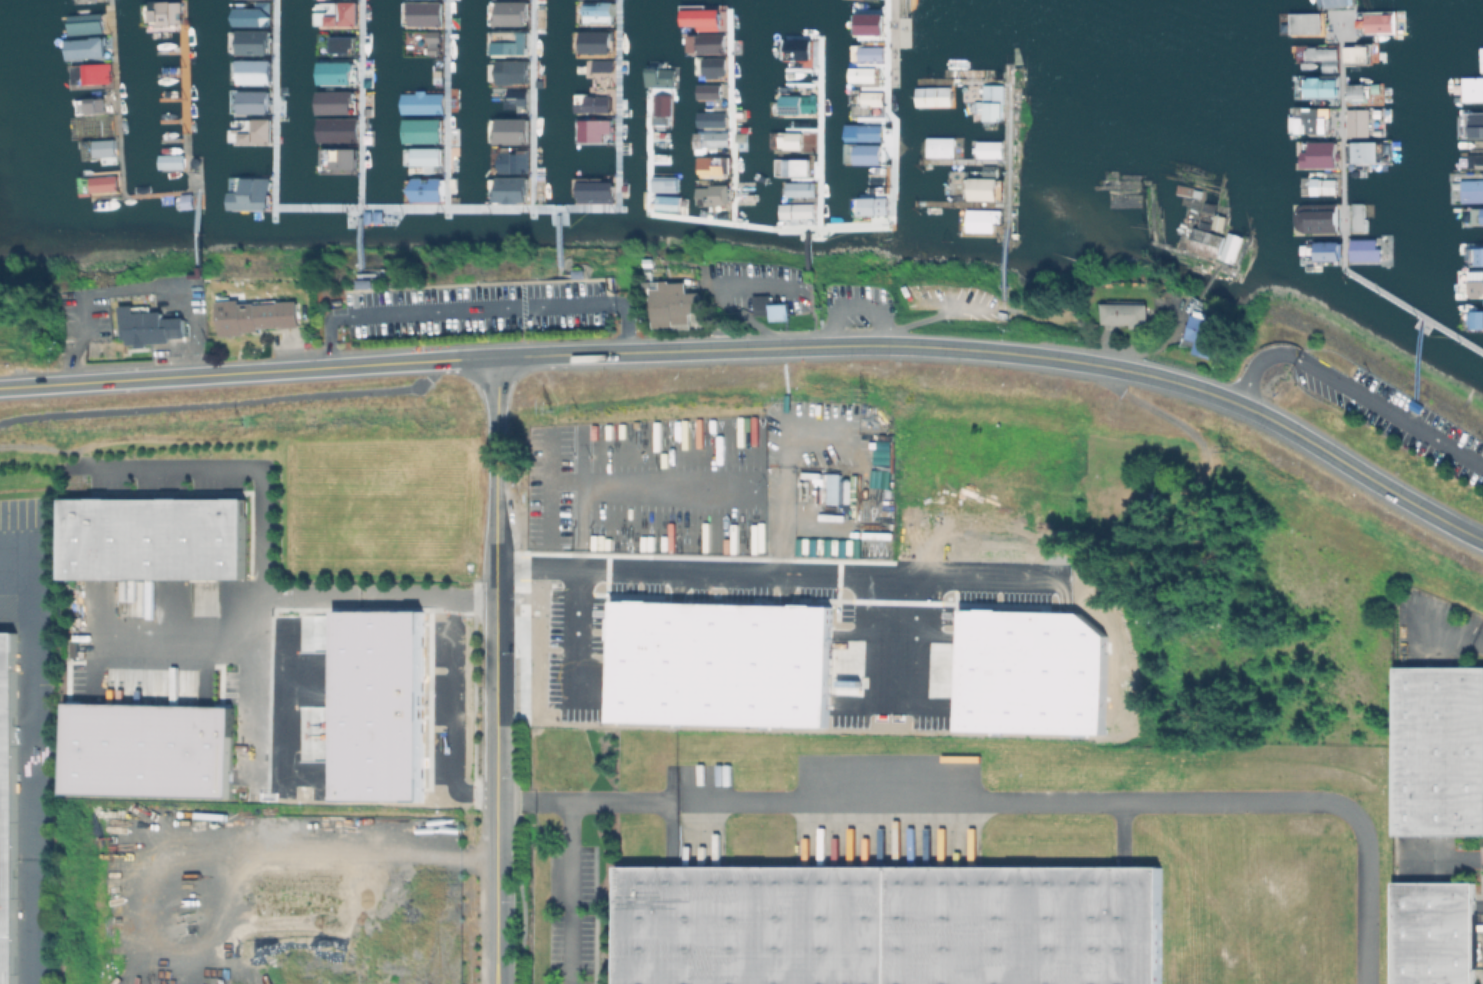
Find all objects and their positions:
building: (1337, 2)
building: (165, 12)
building: (598, 12)
building: (508, 14)
building: (337, 15)
building: (428, 15)
building: (868, 23)
building: (1303, 23)
building: (90, 25)
building: (595, 41)
building: (341, 42)
building: (709, 42)
building: (250, 43)
building: (513, 43)
building: (798, 47)
building: (89, 50)
building: (1355, 55)
building: (1322, 56)
building: (595, 70)
building: (250, 72)
building: (338, 72)
building: (90, 73)
building: (514, 73)
building: (661, 77)
building: (94, 86)
building: (1319, 87)
building: (1471, 88)
building: (706, 91)
building: (932, 96)
pier: (115, 97)
pier: (619, 101)
building: (249, 102)
building: (333, 102)
building: (992, 102)
pier: (530, 103)
building: (591, 103)
building: (797, 103)
pier: (444, 106)
building: (101, 107)
pier: (183, 108)
building: (664, 108)
pier: (273, 109)
pier: (729, 115)
building: (1312, 120)
building: (1356, 122)
building: (1474, 123)
building: (103, 125)
building: (594, 129)
building: (421, 130)
building: (508, 130)
pier: (819, 130)
building: (258, 131)
pier: (360, 135)
building: (716, 140)
pier: (1005, 142)
building: (105, 148)
building: (988, 149)
building: (1364, 151)
building: (1319, 154)
building: (425, 156)
building: (664, 156)
building: (341, 158)
building: (864, 159)
pier: (961, 159)
building: (1474, 159)
building: (172, 162)
building: (710, 165)
building: (512, 176)
building: (103, 183)
building: (667, 184)
building: (982, 189)
pier: (184, 190)
building: (1471, 190)
building: (425, 191)
building: (594, 193)
building: (251, 195)
building: (190, 201)
pier: (960, 202)
building: (670, 204)
pier: (453, 206)
building: (1481, 215)
building: (1313, 217)
building: (1357, 218)
building: (981, 219)
pier: (1340, 220)
pier: (805, 226)
pier: (556, 240)
building: (1201, 241)
pier: (806, 245)
building: (1229, 247)
pier: (1180, 249)
building: (1326, 250)
building: (1362, 250)
building: (1478, 255)
pier: (1207, 282)
building: (1475, 283)
building: (363, 285)
road: (132, 287)
building: (672, 304)
road: (855, 306)
building: (769, 308)
road: (481, 310)
road: (934, 314)
building: (1125, 314)
building: (256, 315)
building: (1475, 318)
building: (150, 325)
road: (189, 329)
building: (1203, 331)
road: (78, 338)
road: (1010, 353)
road: (476, 358)
road: (227, 373)
road: (1352, 390)
road: (231, 403)
road: (497, 450)
road: (778, 470)
road: (653, 480)
road: (550, 486)
road: (581, 524)
building: (152, 538)
road: (263, 553)
road: (496, 562)
road: (778, 572)
road: (578, 636)
road: (170, 640)
road: (899, 640)
road: (269, 646)
road: (252, 647)
road: (496, 652)
building: (712, 665)
building: (1024, 674)
building: (385, 703)
road: (285, 705)
road: (456, 713)
road: (251, 743)
building: (146, 750)
building: (1440, 752)
road: (29, 755)
road: (496, 762)
road: (1050, 800)
road: (533, 801)
building: (6, 805)
road: (440, 852)
road: (496, 892)
road: (569, 892)
building: (889, 923)
building: (1436, 934)

